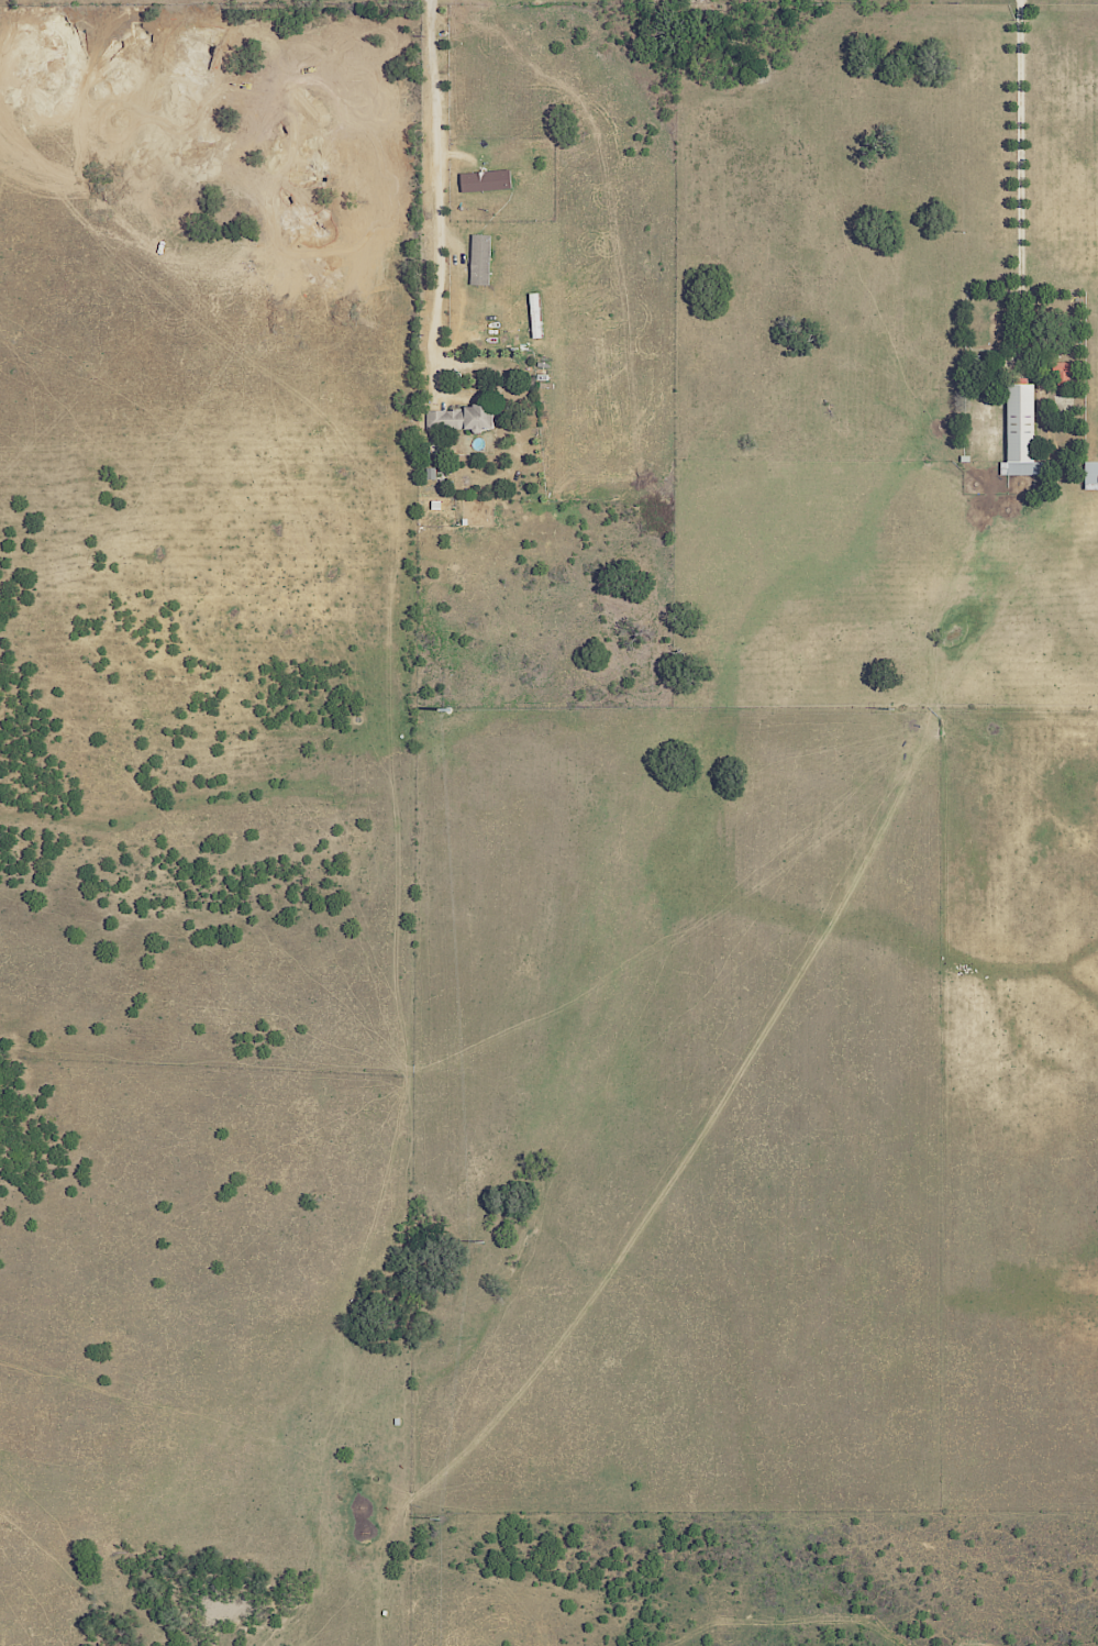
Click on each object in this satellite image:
road: (1018, 143)
building: (484, 181)
road: (435, 198)
building: (479, 261)
building: (1063, 374)
building: (457, 419)
building: (1020, 434)
building: (1089, 475)
power tower: (895, 710)
power tower: (448, 711)
power tower: (486, 1238)
power tower: (439, 1513)

